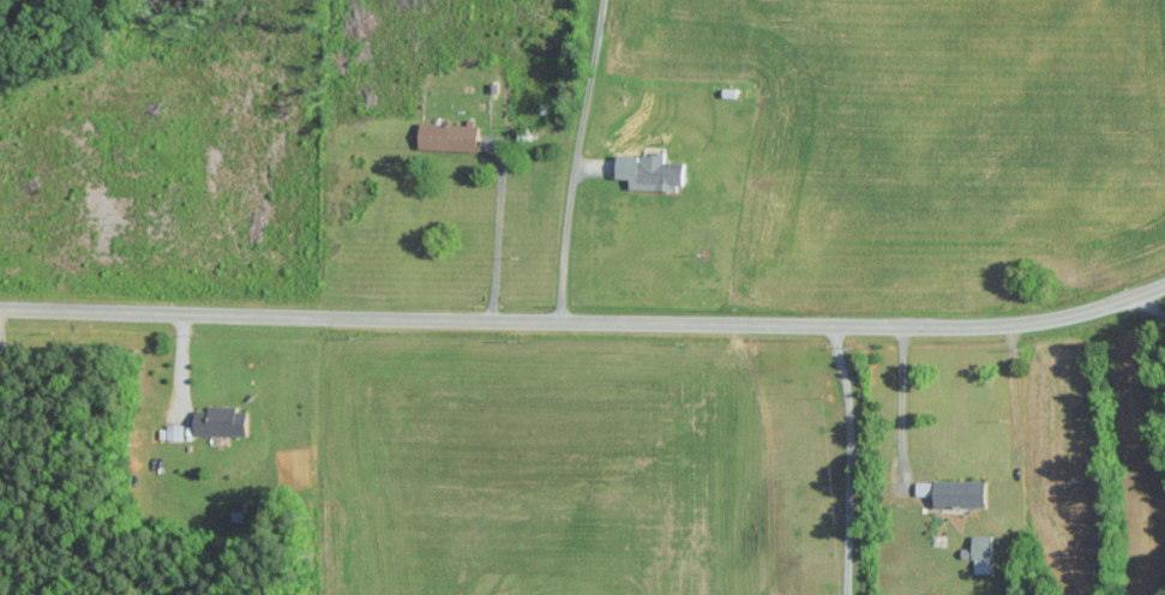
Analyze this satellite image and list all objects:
building: (449, 137)
road: (574, 163)
building: (661, 174)
road: (496, 238)
road: (1147, 306)
road: (585, 329)
road: (4, 395)
road: (897, 397)
road: (1015, 420)
building: (222, 421)
building: (174, 432)
road: (768, 457)
road: (848, 459)
building: (955, 493)
building: (983, 547)
building: (983, 566)

